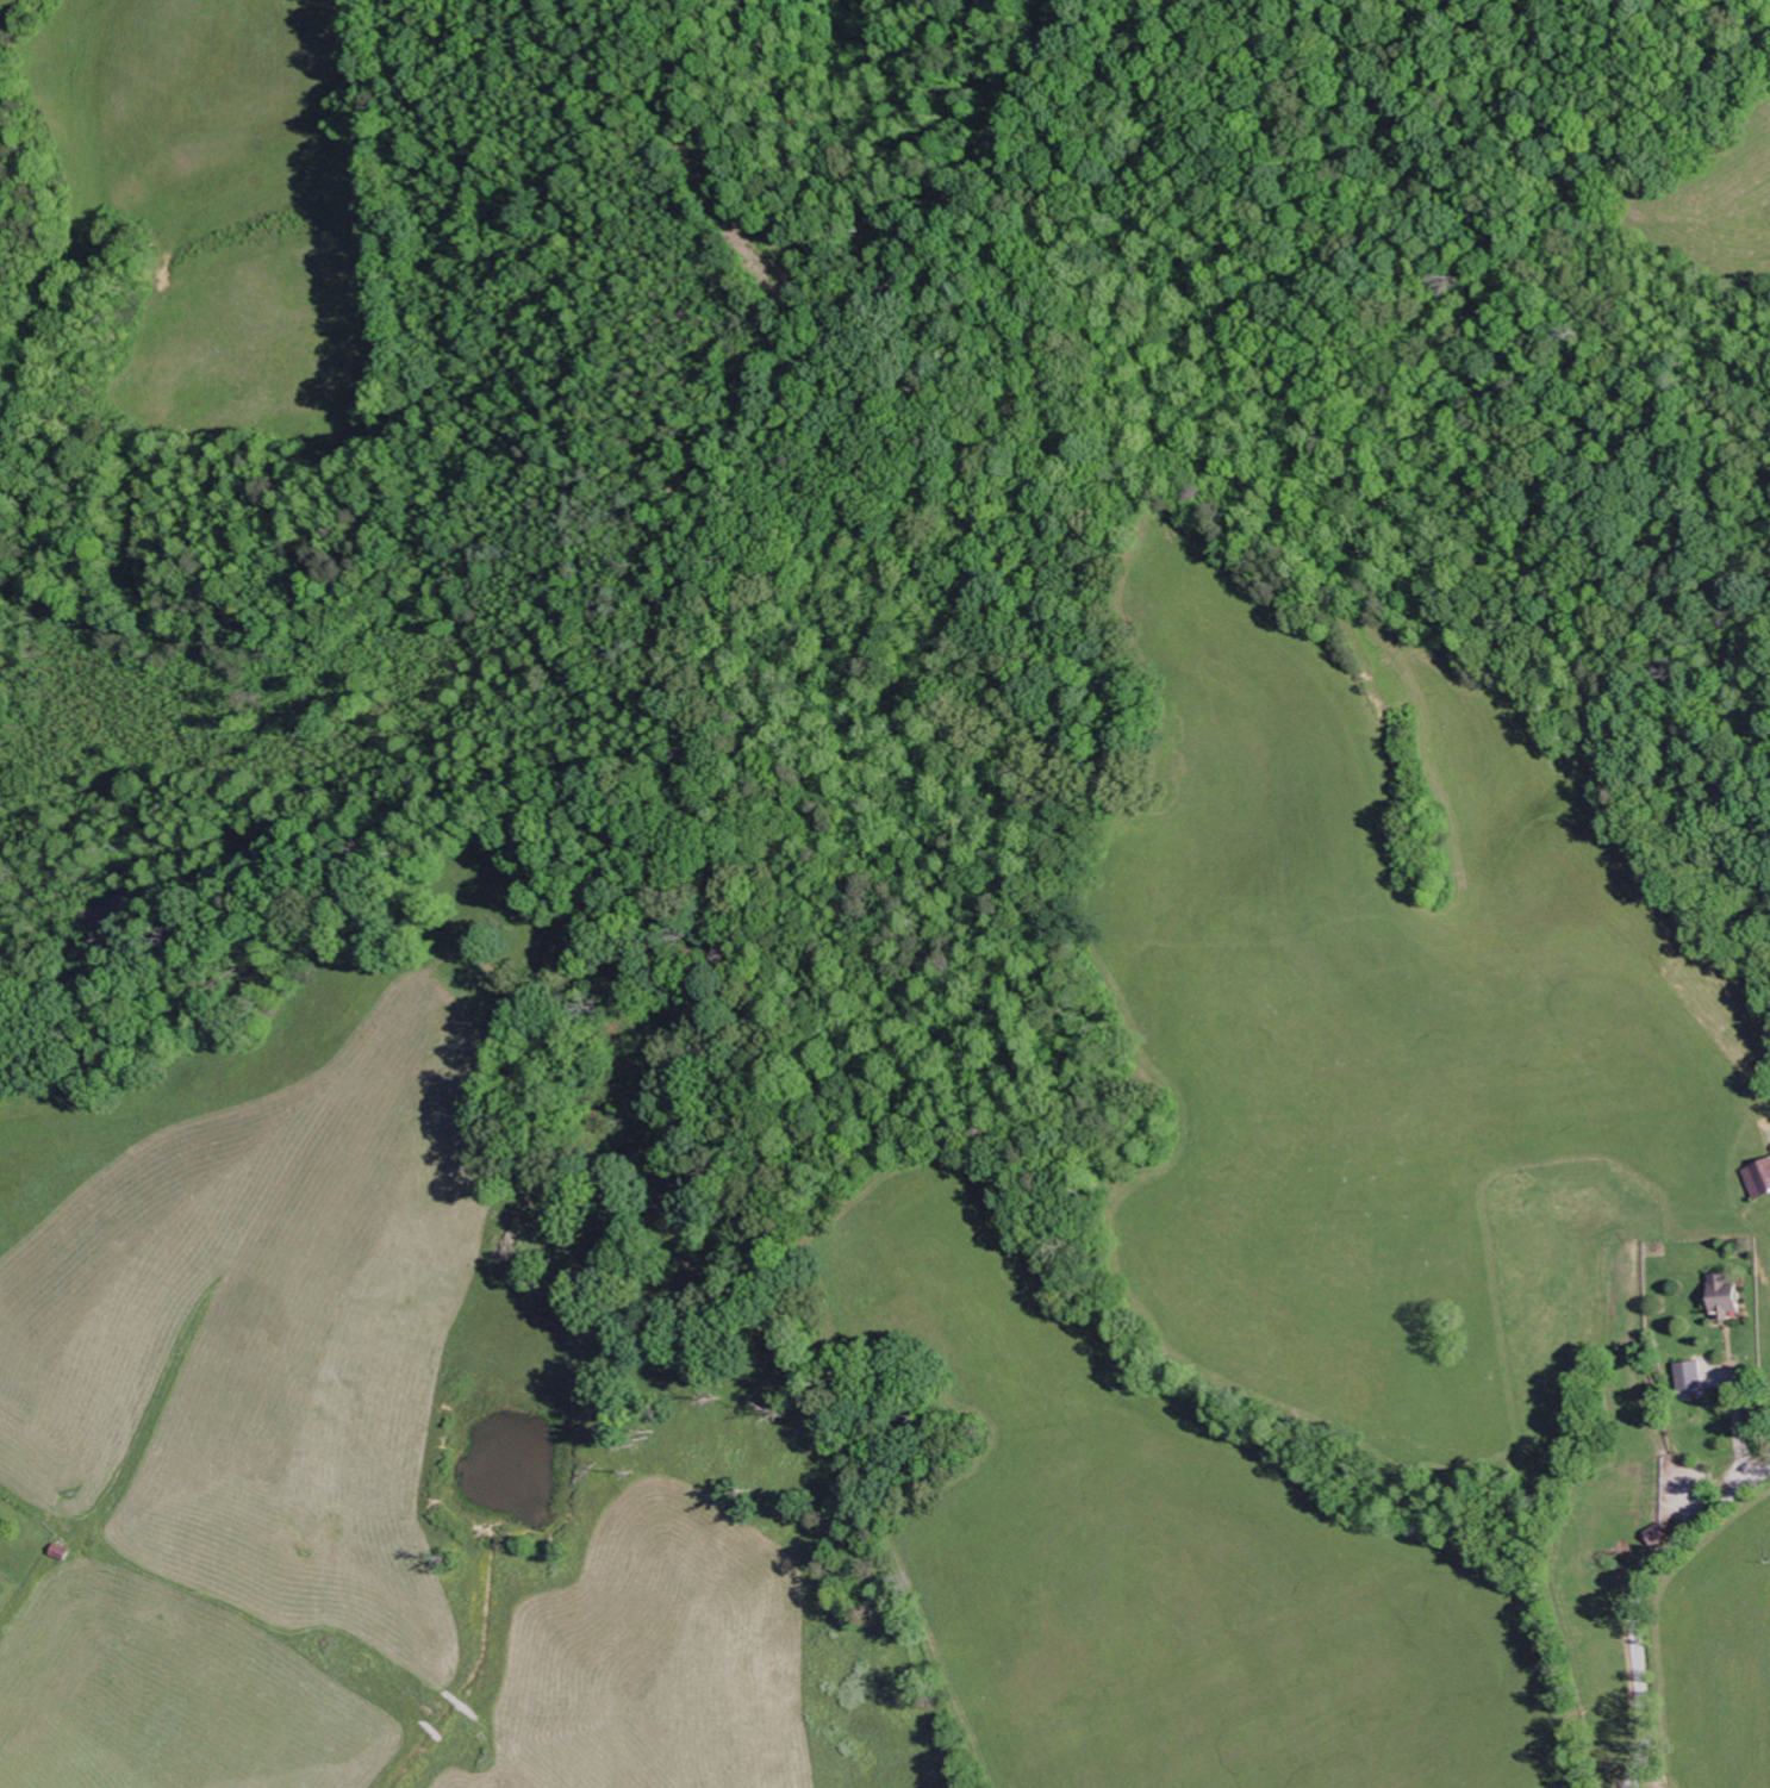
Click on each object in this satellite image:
building: (1759, 1178)
building: (1726, 1295)
building: (1690, 1375)
road: (1637, 1600)

